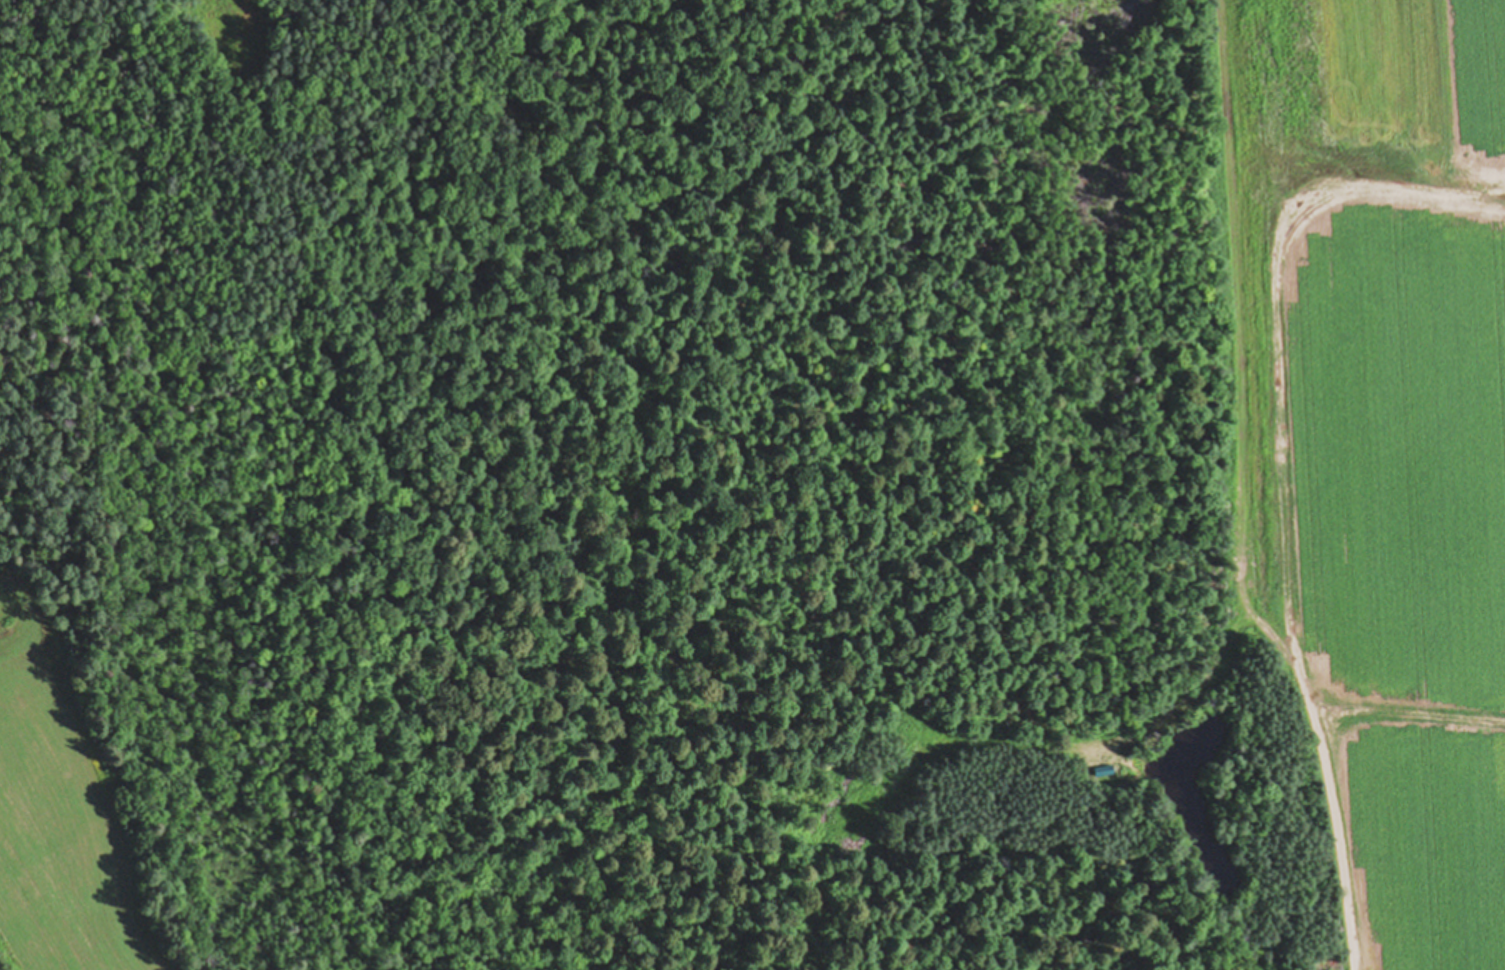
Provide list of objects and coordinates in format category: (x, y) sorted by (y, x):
road: (1336, 823)

